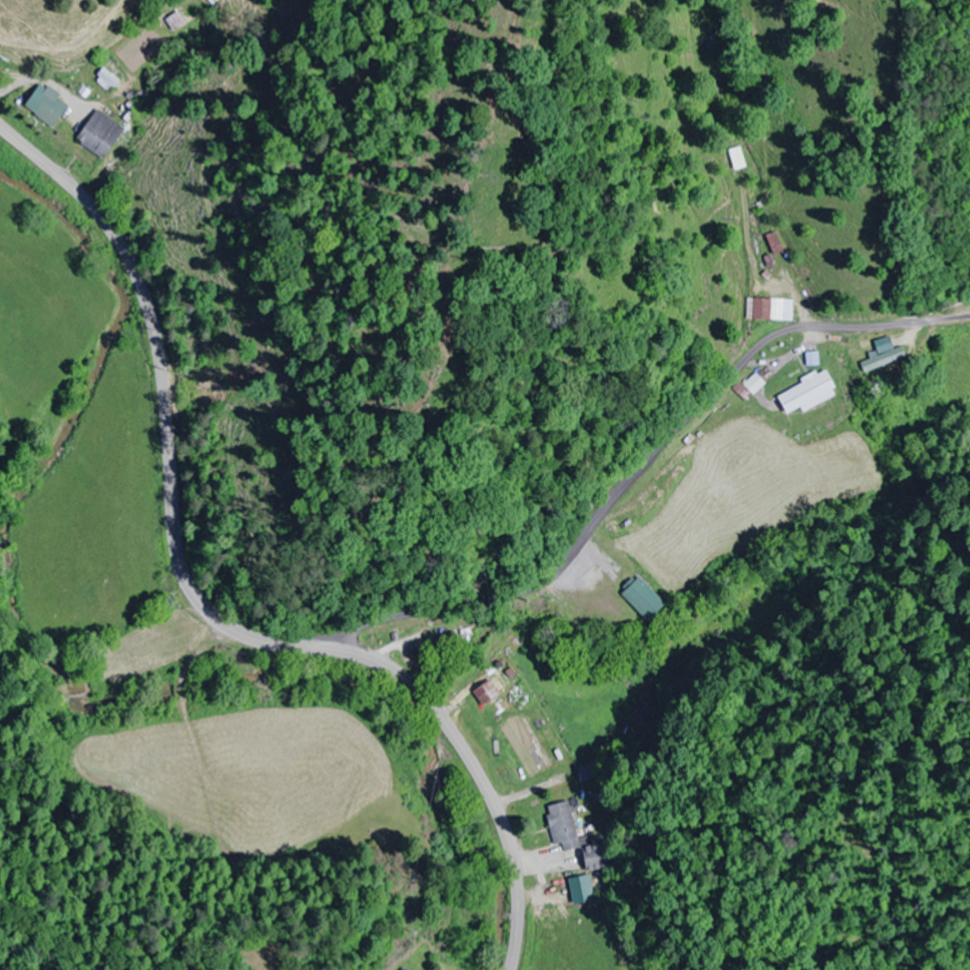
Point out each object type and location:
building: (2, 58)
building: (47, 106)
building: (101, 134)
building: (738, 159)
building: (776, 244)
building: (771, 310)
road: (809, 333)
building: (884, 360)
building: (810, 393)
road: (533, 592)
building: (644, 599)
road: (199, 607)
building: (489, 692)
building: (577, 838)

